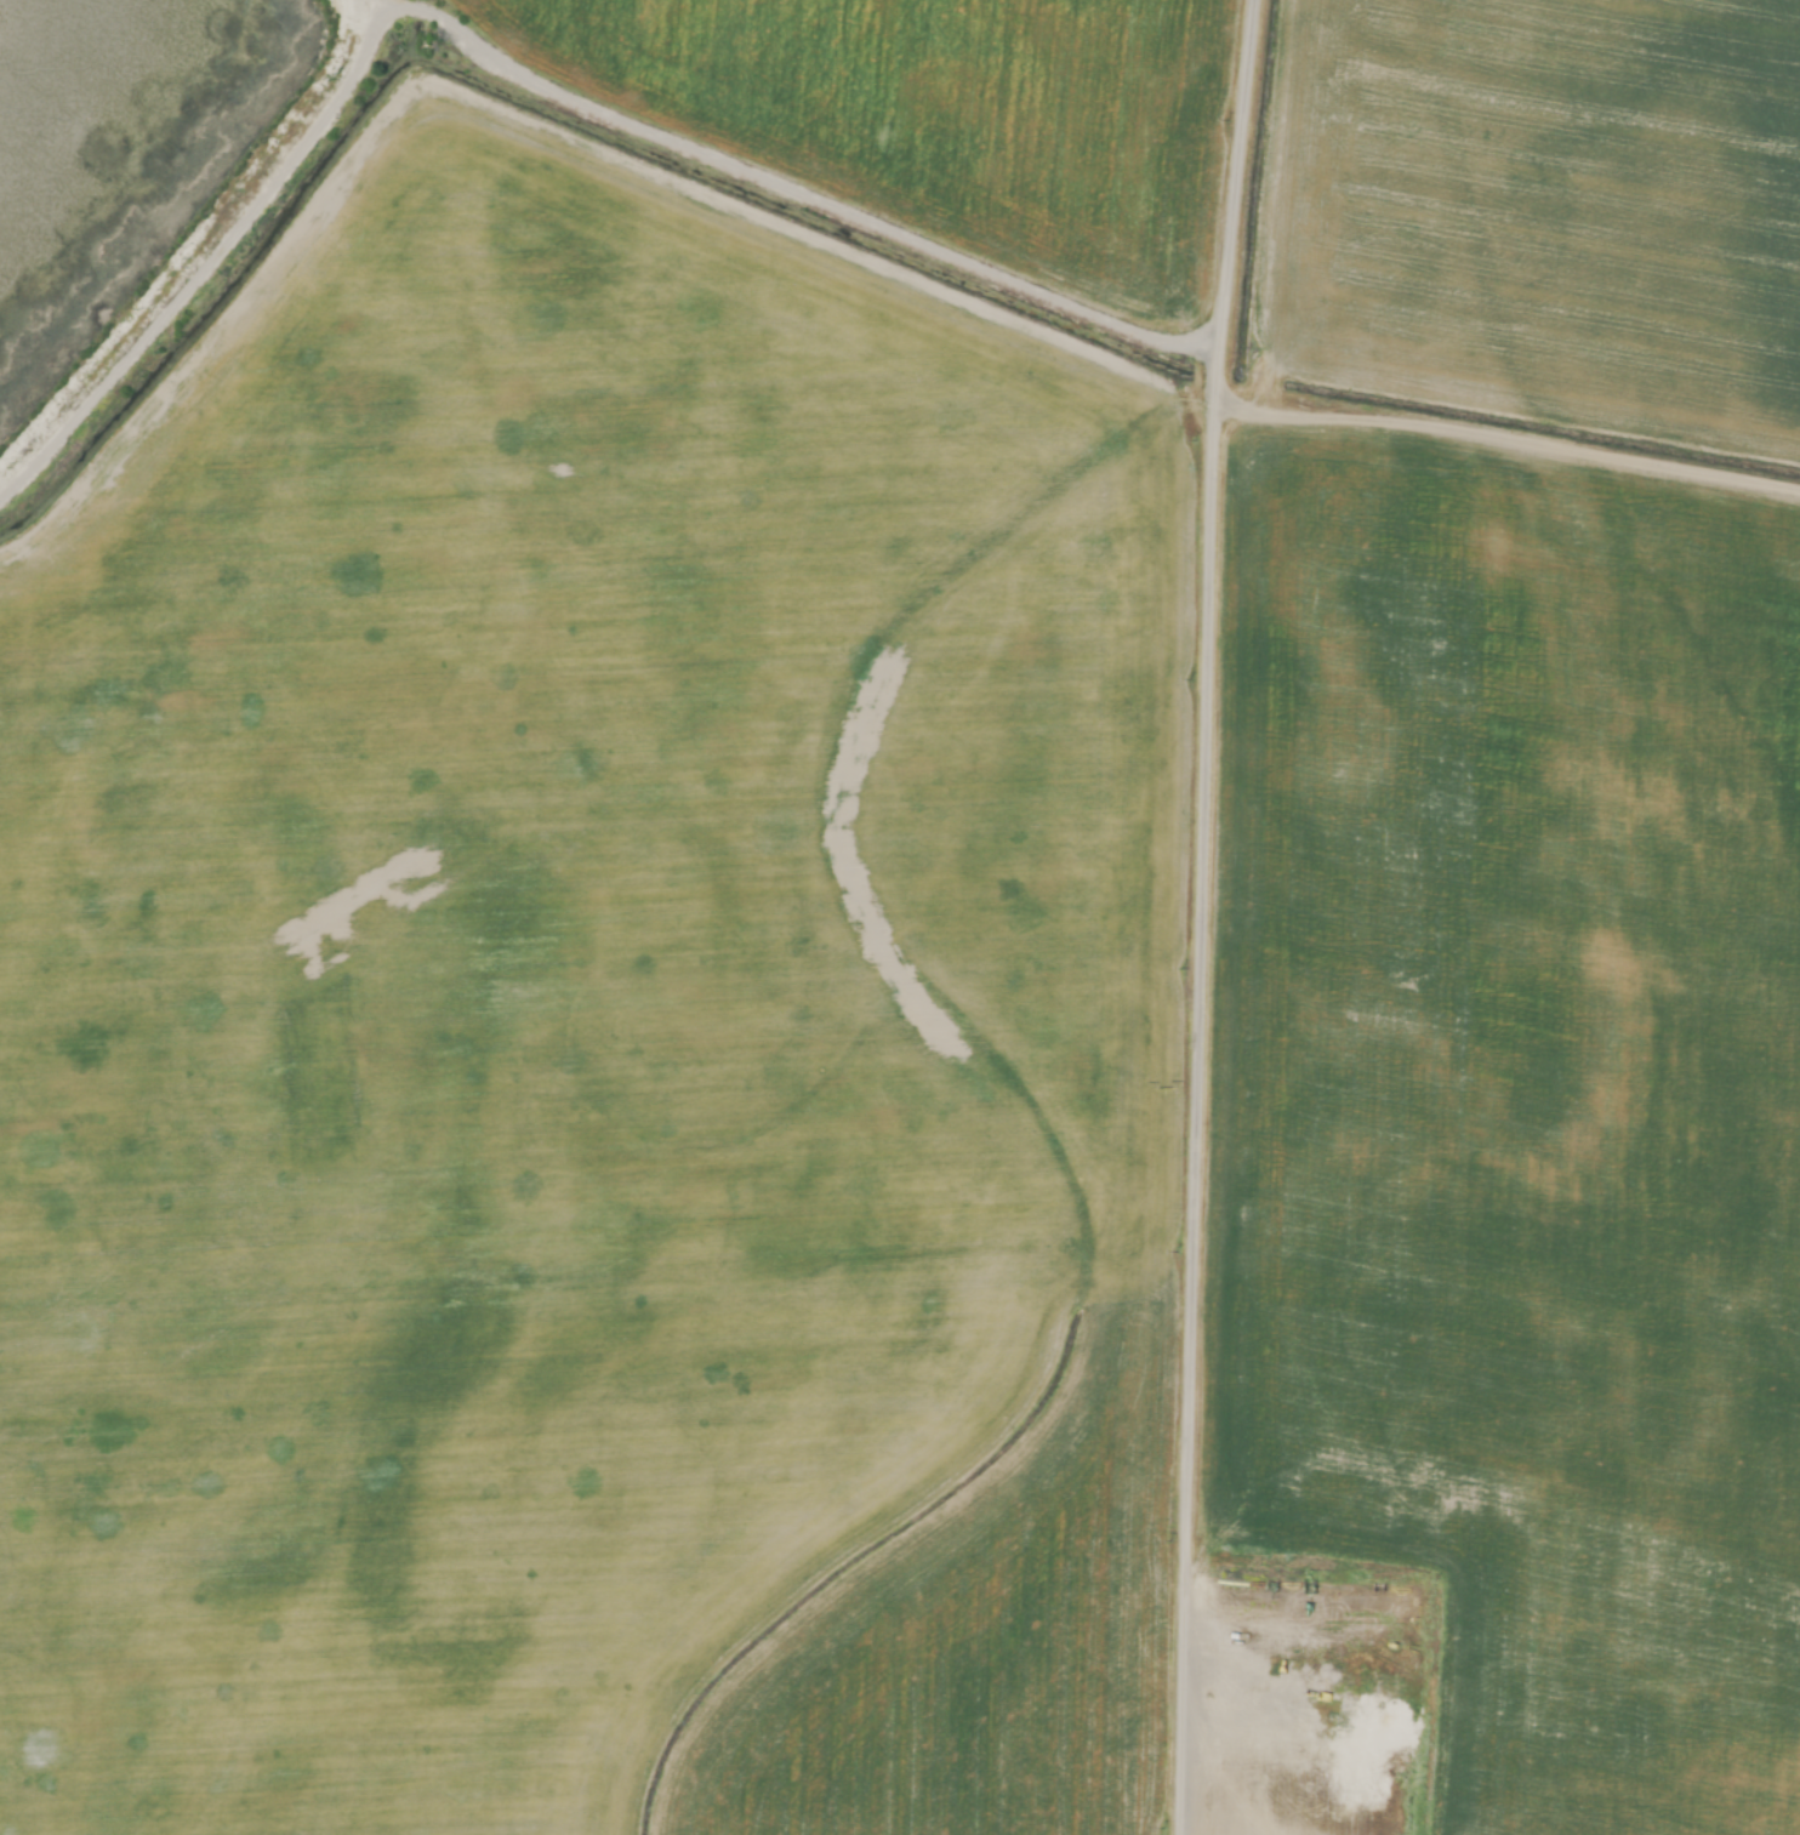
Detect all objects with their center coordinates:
road: (1202, 916)

